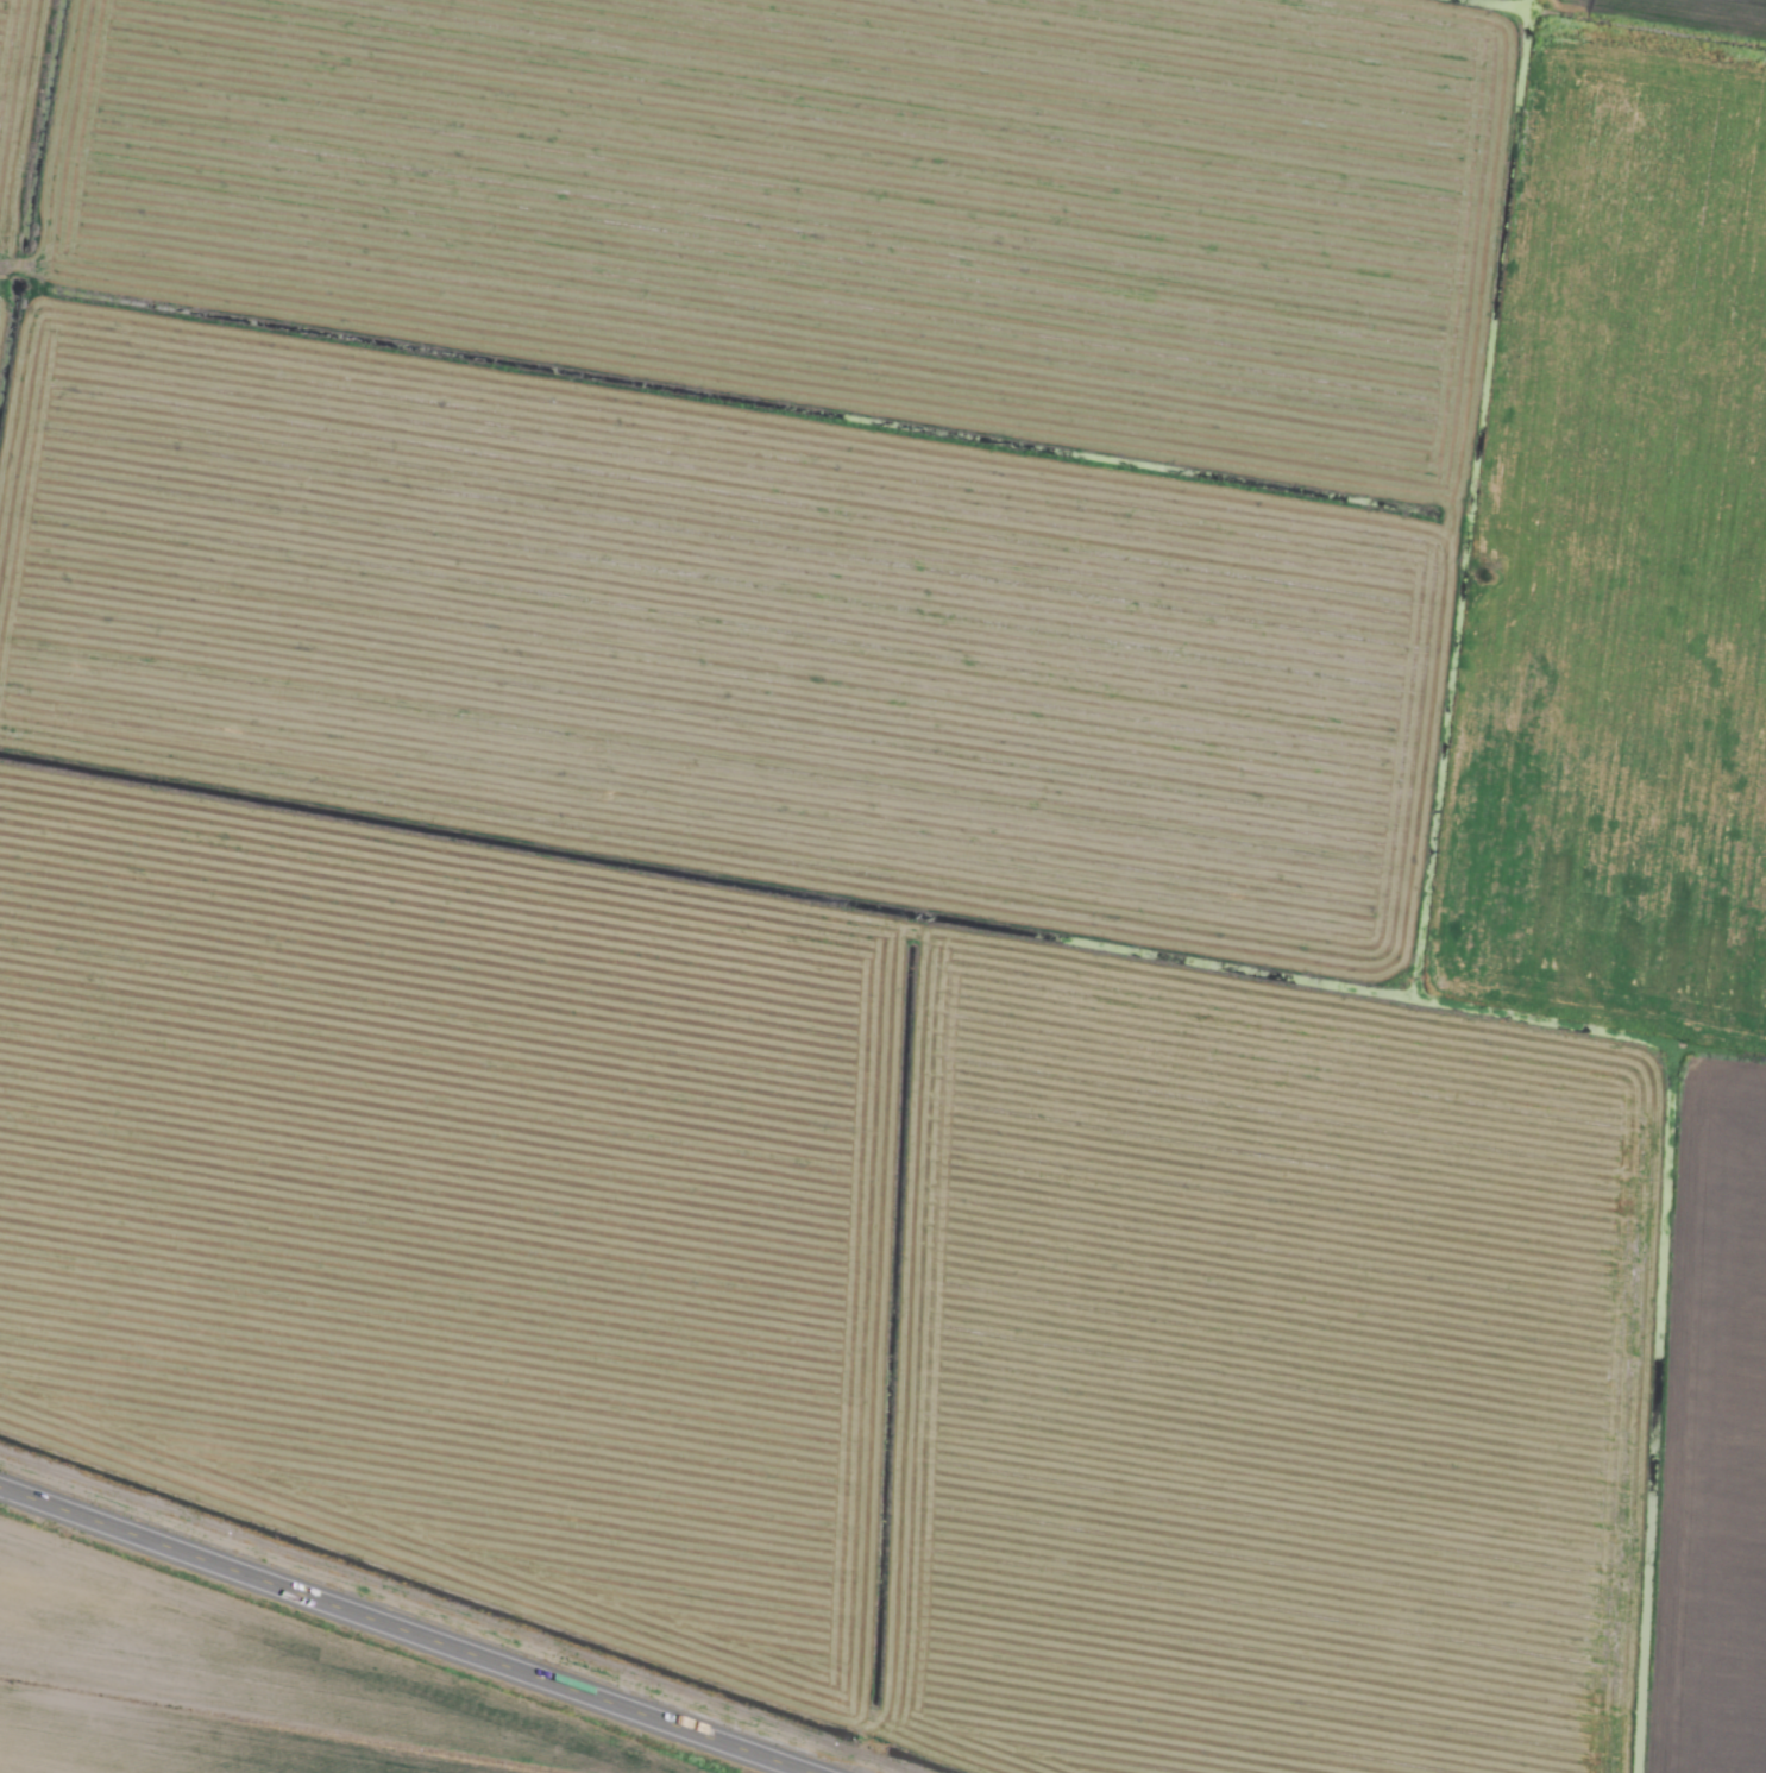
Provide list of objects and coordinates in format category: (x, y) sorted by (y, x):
crop: (882, 886)
road: (402, 1630)

